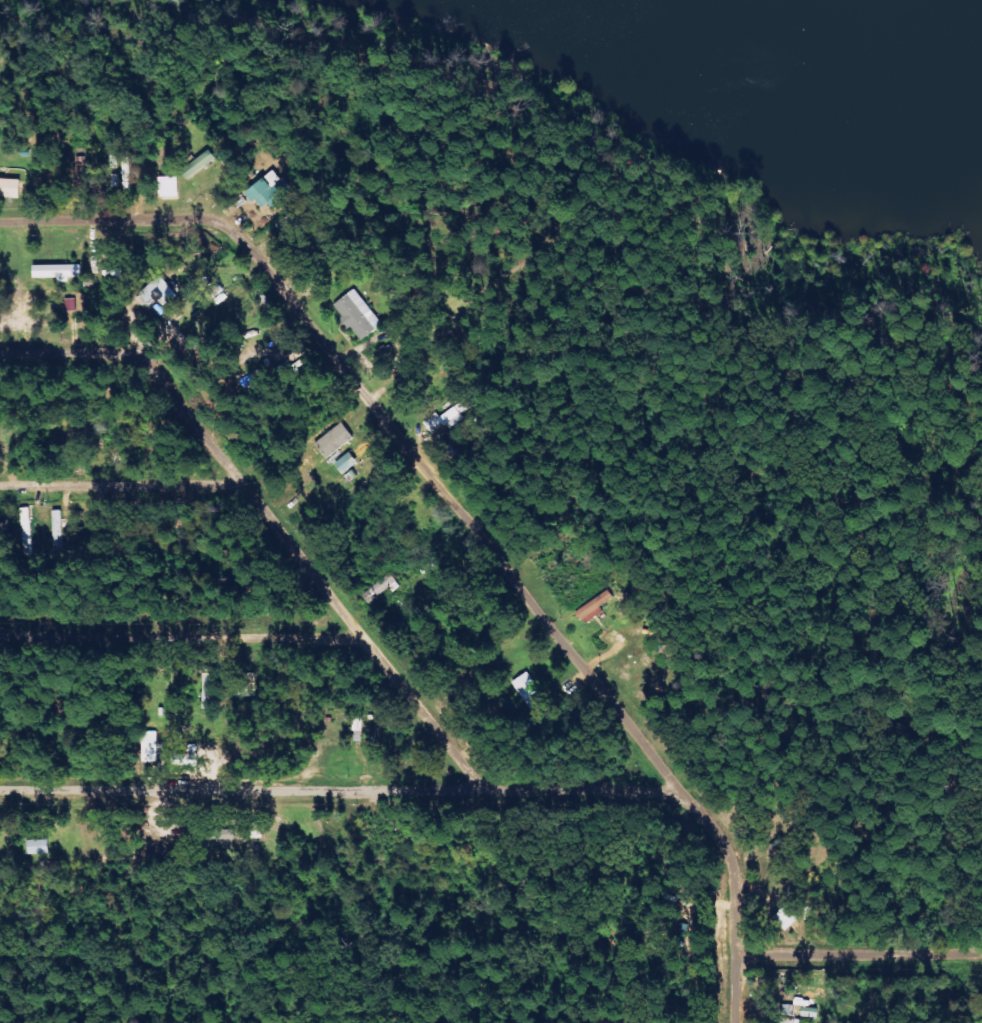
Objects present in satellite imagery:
building: (198, 163)
building: (168, 186)
building: (9, 188)
building: (268, 190)
building: (54, 270)
road: (108, 289)
building: (156, 291)
building: (356, 314)
road: (70, 354)
building: (442, 420)
building: (334, 440)
building: (345, 463)
road: (121, 486)
road: (439, 492)
road: (308, 574)
building: (589, 607)
road: (178, 637)
building: (528, 691)
building: (149, 747)
building: (186, 757)
road: (337, 791)
building: (255, 830)
road: (859, 957)
road: (734, 990)

